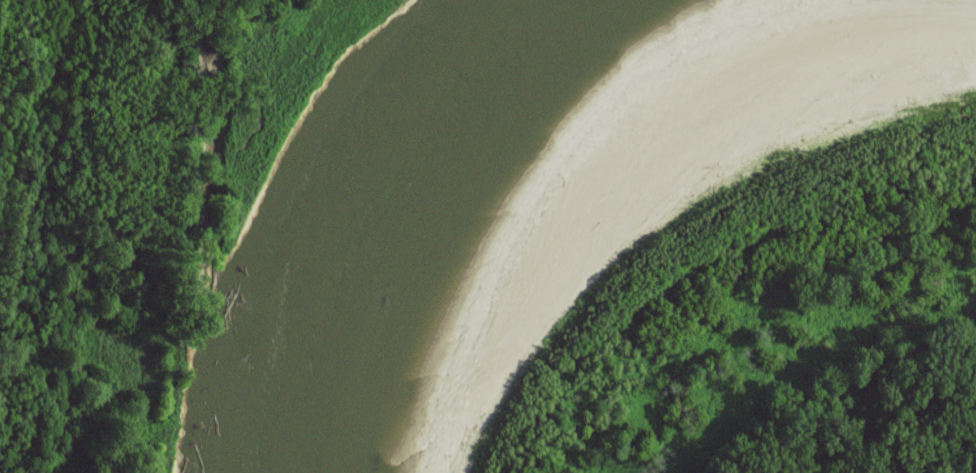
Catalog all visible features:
river: (457, 164)

